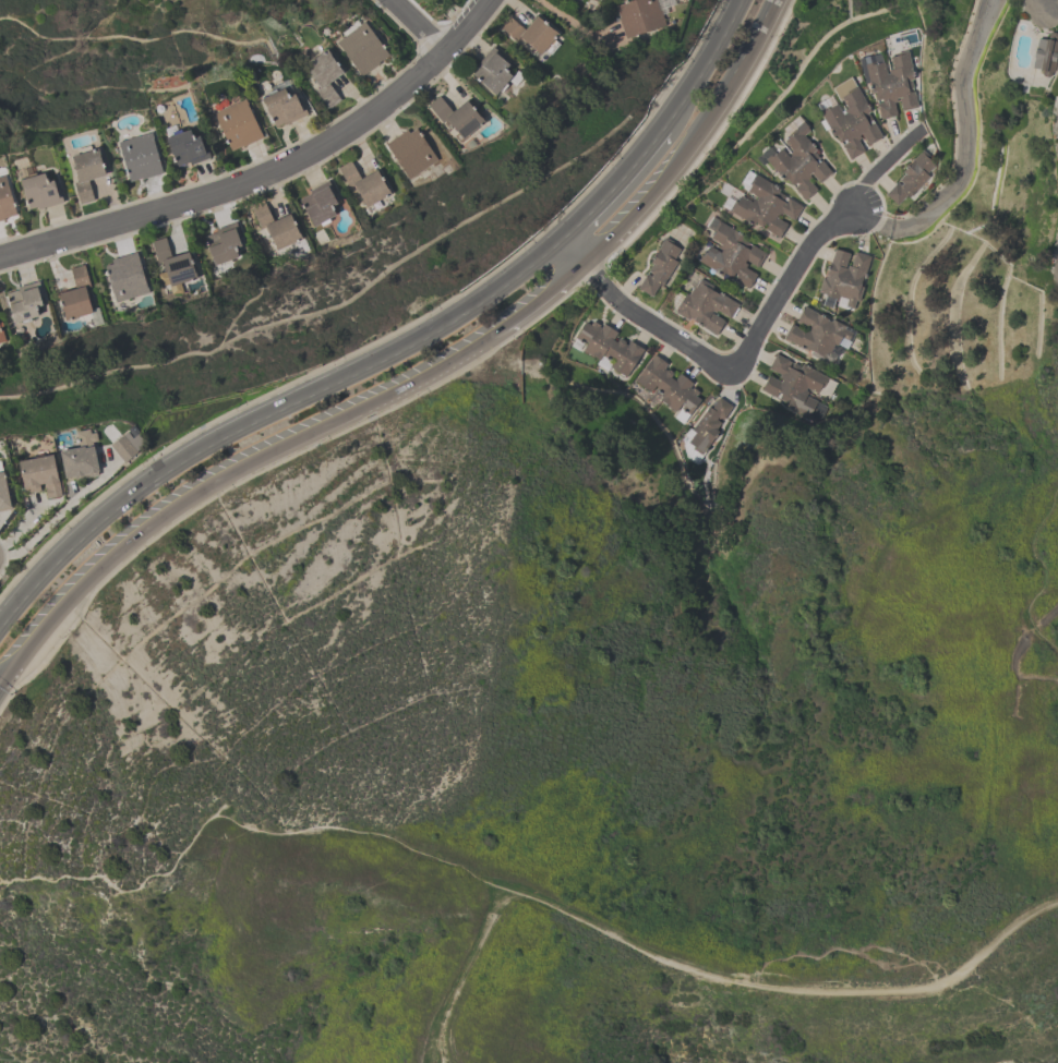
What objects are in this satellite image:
building: (577, 1)
building: (639, 15)
road: (573, 23)
road: (417, 25)
building: (530, 33)
building: (361, 48)
building: (1046, 52)
road: (707, 65)
building: (492, 70)
building: (323, 76)
building: (888, 81)
building: (282, 106)
building: (456, 116)
building: (850, 118)
building: (237, 124)
road: (690, 145)
building: (187, 146)
building: (410, 150)
road: (962, 154)
building: (139, 156)
building: (796, 161)
building: (86, 171)
road: (268, 172)
road: (876, 172)
building: (910, 178)
building: (364, 183)
road: (613, 189)
building: (40, 190)
building: (5, 200)
building: (318, 202)
building: (762, 206)
building: (276, 226)
building: (223, 243)
building: (730, 253)
building: (172, 262)
road: (1057, 263)
building: (659, 266)
building: (125, 277)
building: (843, 279)
building: (76, 294)
road: (541, 299)
building: (24, 301)
building: (705, 305)
building: (0, 325)
building: (818, 334)
building: (1, 337)
building: (608, 347)
road: (714, 359)
building: (792, 380)
building: (666, 386)
road: (289, 407)
building: (707, 426)
building: (128, 444)
road: (270, 451)
building: (81, 456)
building: (40, 474)
building: (3, 493)
road: (59, 515)
road: (17, 607)
road: (27, 643)

